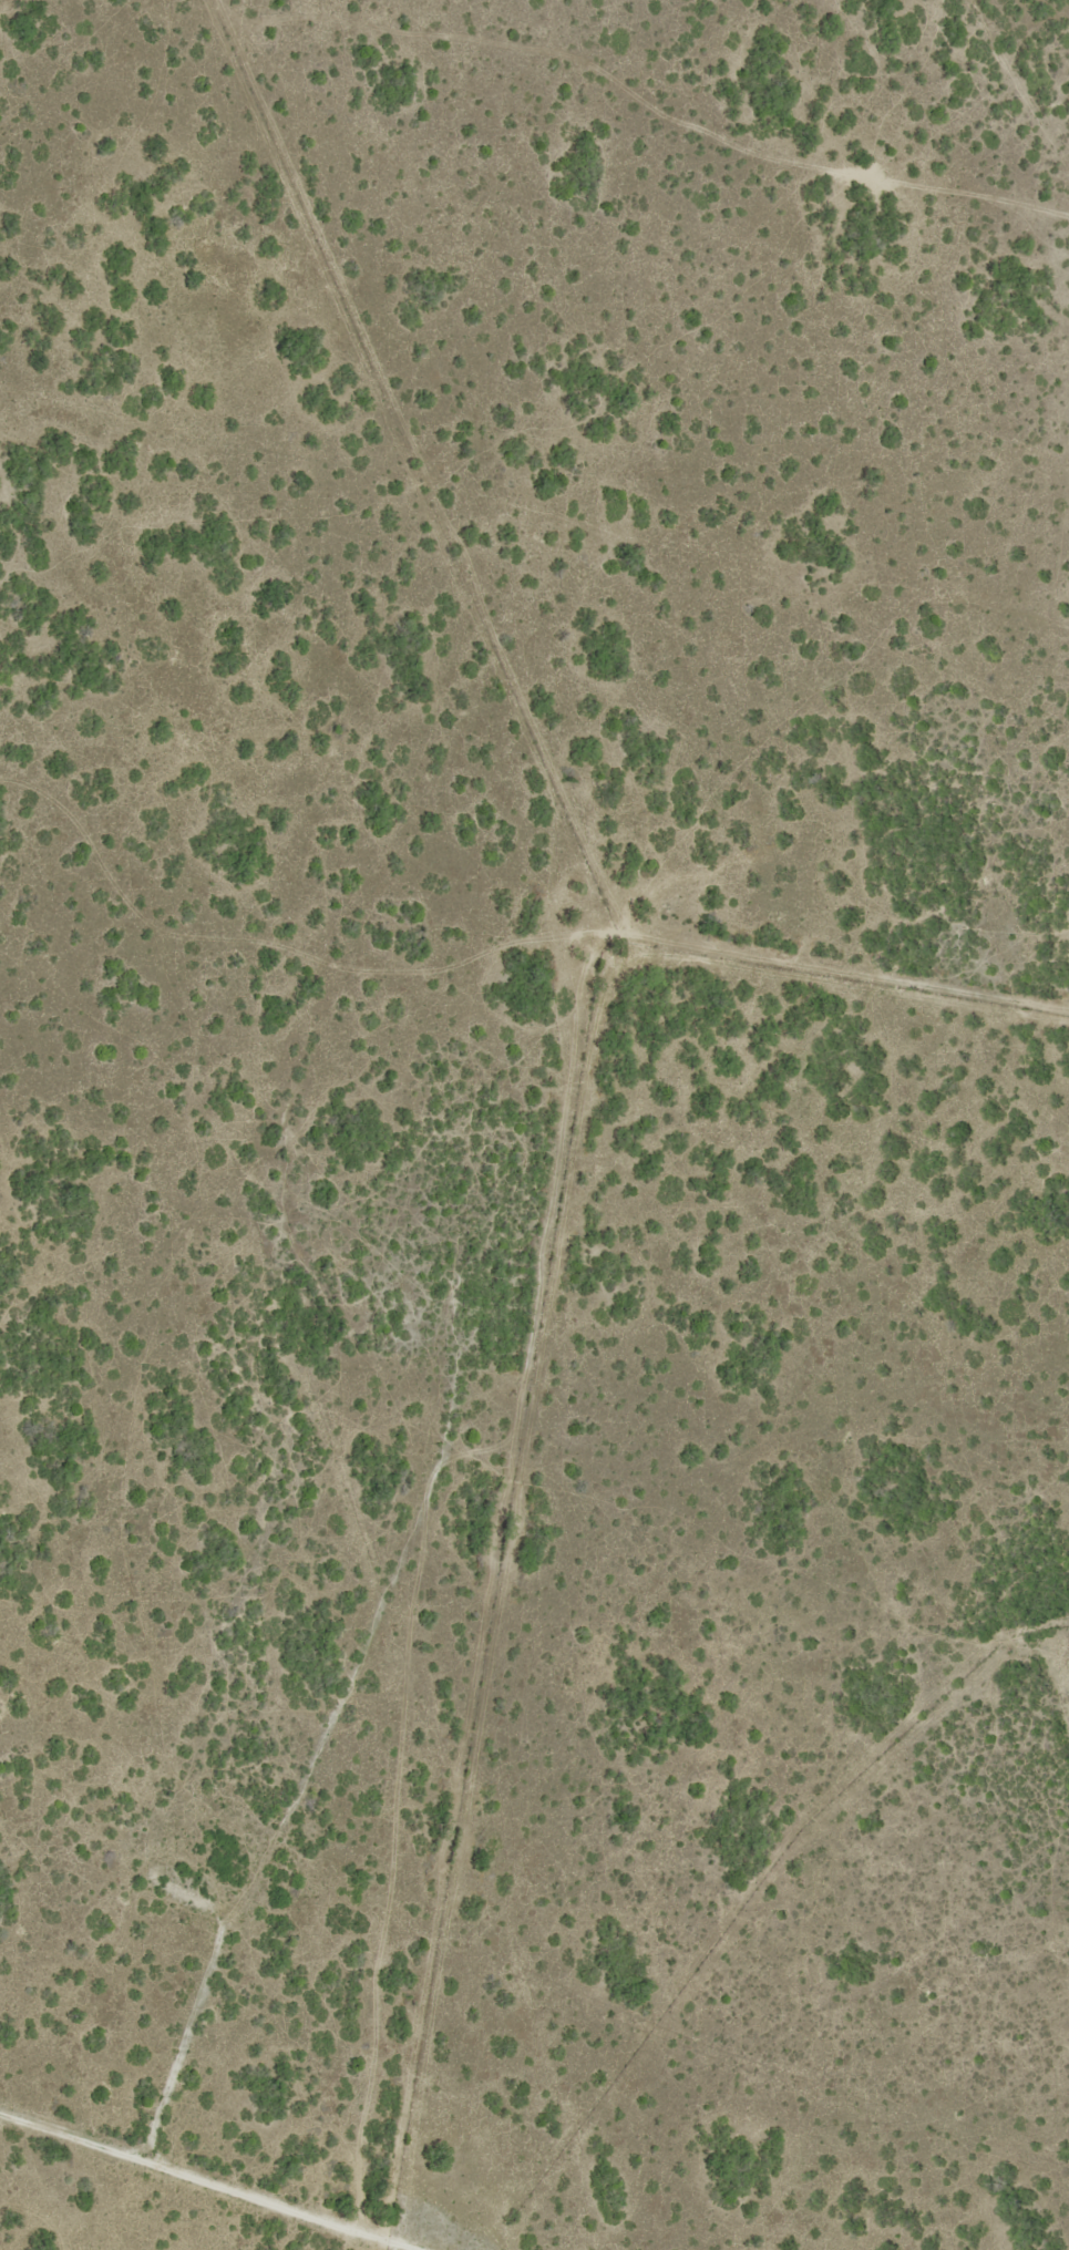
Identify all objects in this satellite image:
road: (226, 2175)

